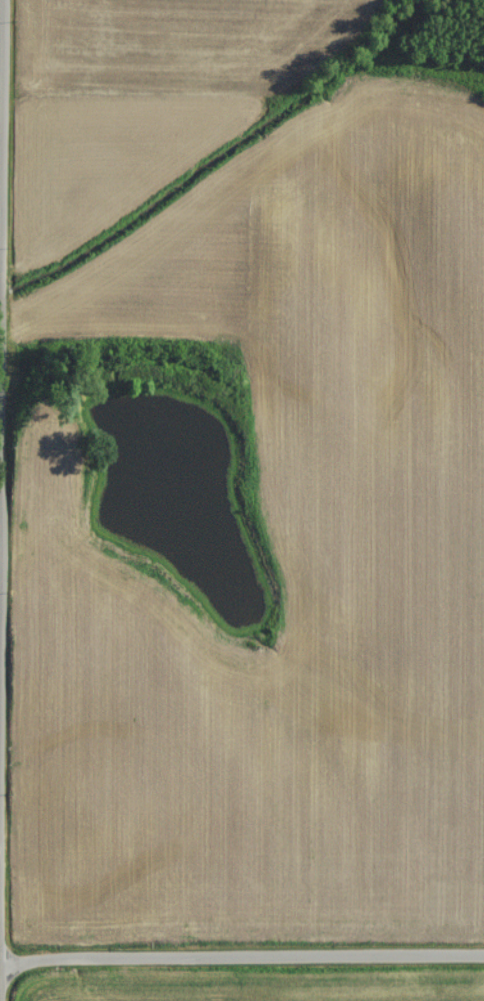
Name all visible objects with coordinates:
road: (4, 500)
road: (243, 956)

